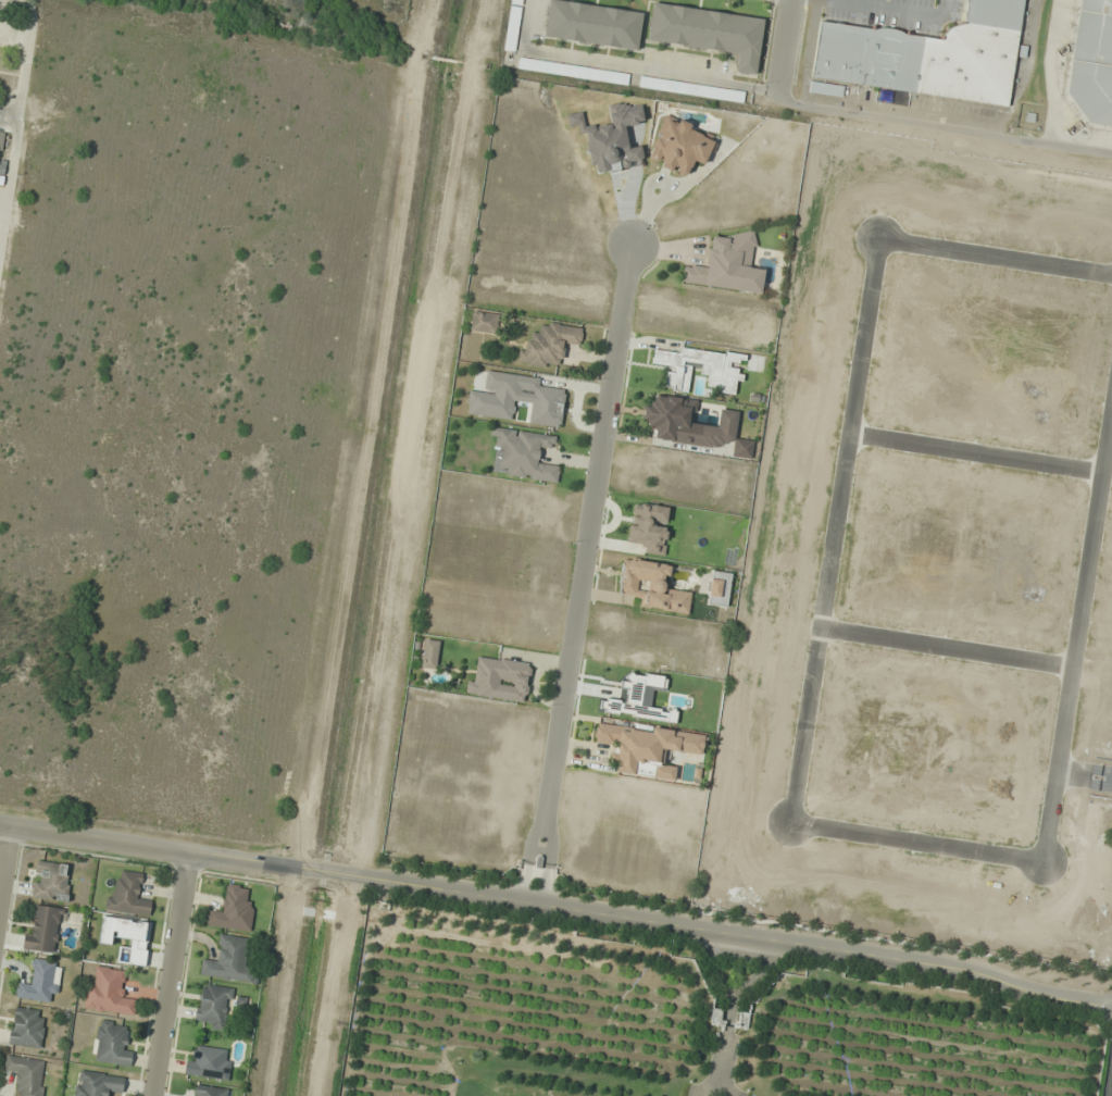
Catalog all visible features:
building: (594, 24)
building: (515, 25)
building: (709, 32)
road: (782, 50)
building: (928, 55)
building: (1092, 66)
building: (573, 71)
building: (691, 89)
road: (944, 126)
building: (2, 138)
building: (611, 139)
building: (679, 147)
building: (727, 265)
building: (484, 322)
building: (549, 345)
building: (700, 368)
building: (516, 399)
building: (673, 420)
building: (742, 448)
building: (523, 454)
building: (649, 527)
road: (583, 575)
building: (651, 585)
building: (429, 655)
building: (501, 680)
building: (909, 706)
building: (900, 742)
building: (645, 747)
building: (1090, 823)
road: (4, 852)
building: (1017, 864)
building: (51, 881)
building: (128, 895)
road: (557, 907)
building: (233, 910)
building: (43, 930)
building: (127, 938)
building: (228, 960)
road: (171, 973)
building: (39, 982)
building: (110, 993)
building: (213, 1006)
building: (27, 1027)
building: (111, 1044)
building: (209, 1063)
building: (26, 1075)
building: (98, 1084)
building: (211, 1091)

